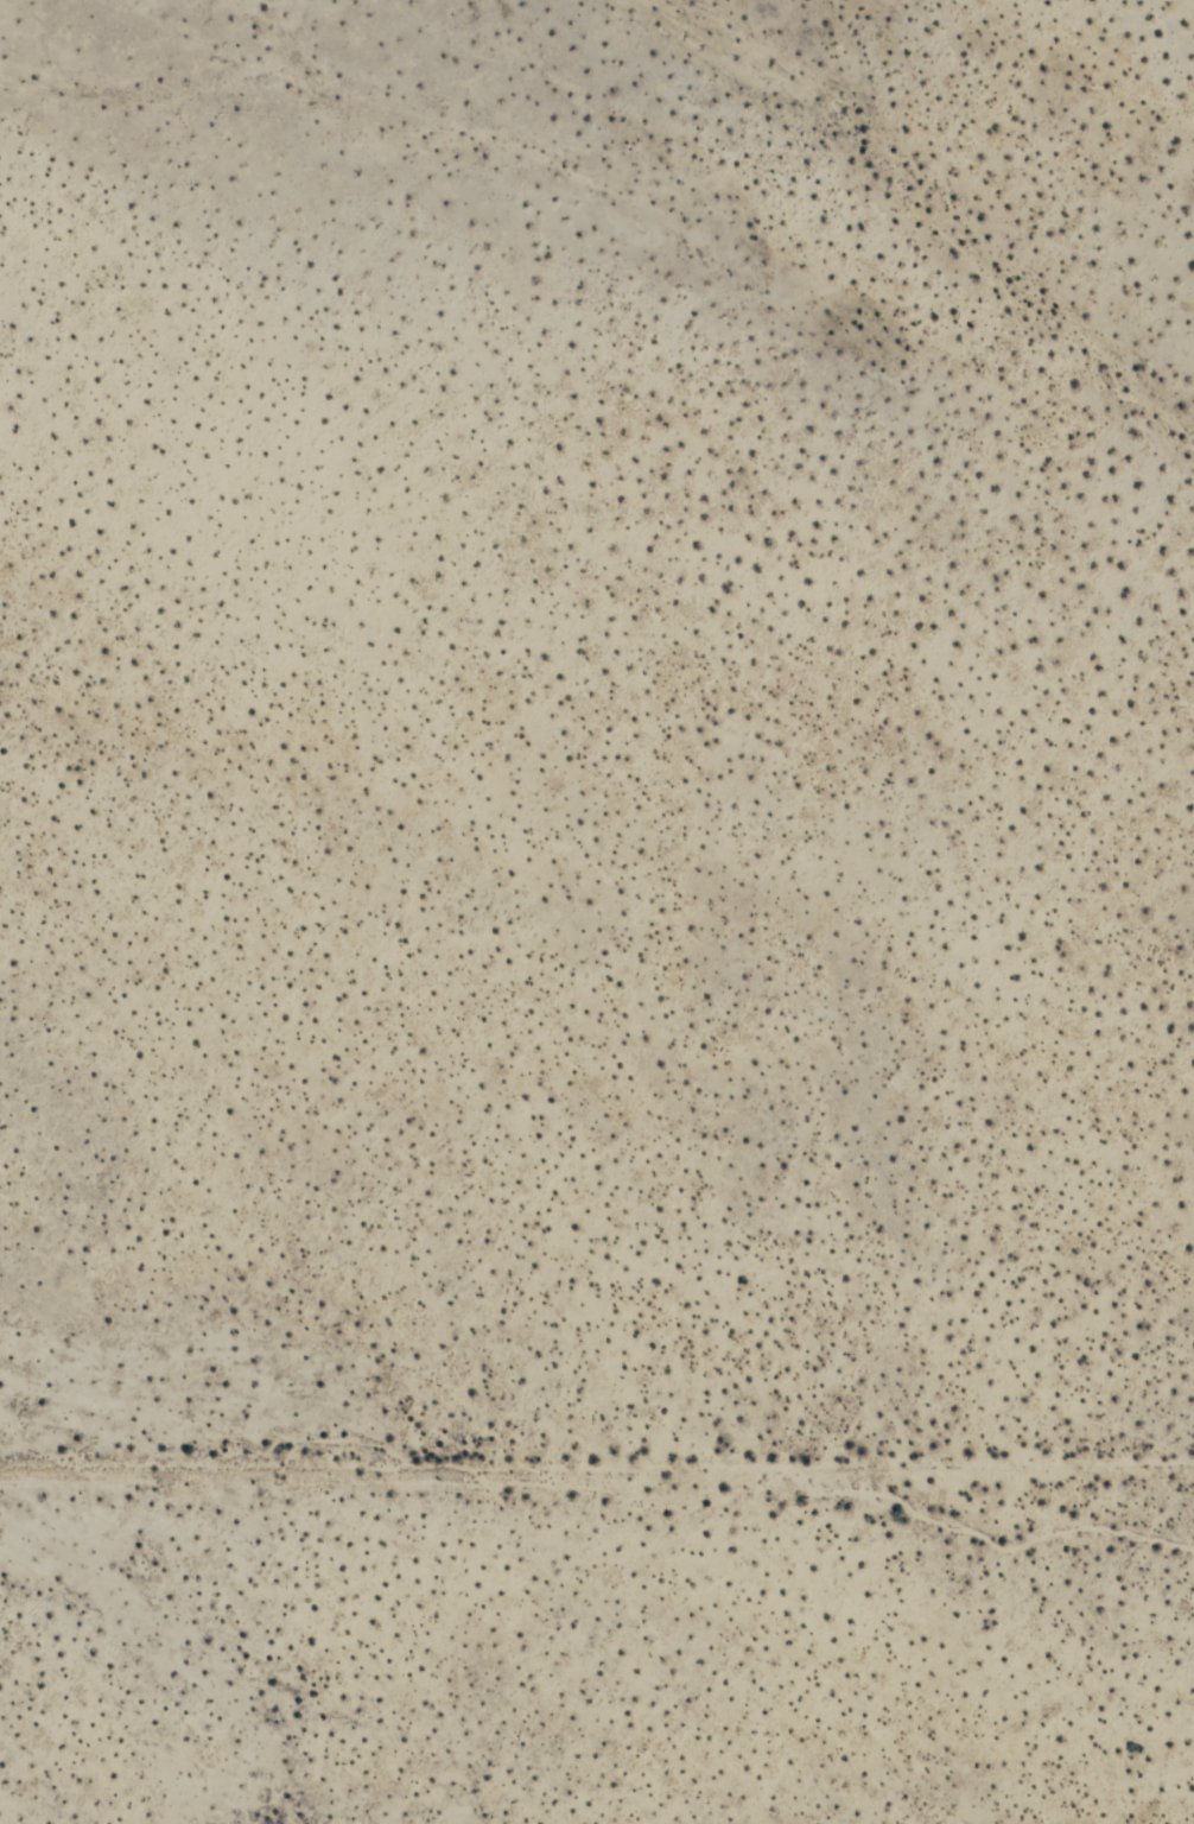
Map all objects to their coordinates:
road: (597, 1468)

